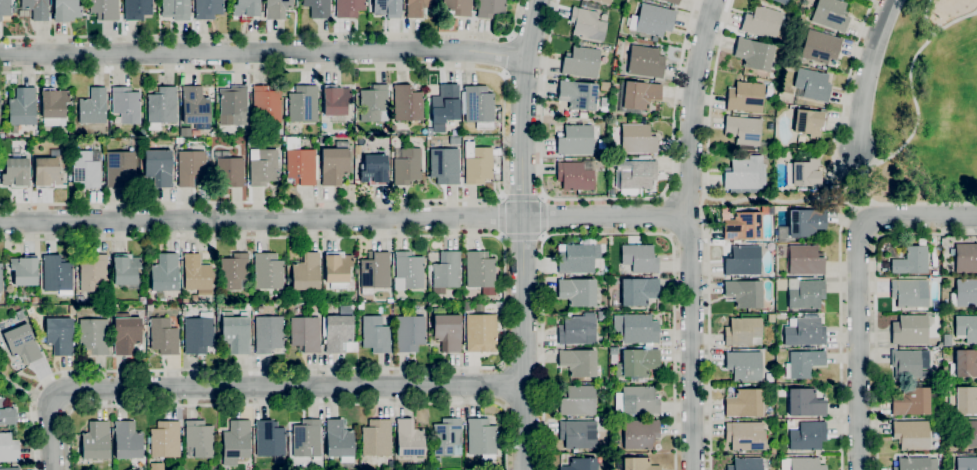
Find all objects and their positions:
building: (604, 1)
building: (673, 1)
building: (782, 1)
building: (416, 7)
building: (458, 7)
building: (5, 8)
building: (36, 8)
building: (276, 8)
building: (318, 8)
building: (349, 8)
building: (387, 8)
building: (490, 8)
building: (105, 9)
building: (137, 9)
building: (176, 9)
building: (208, 9)
building: (247, 9)
building: (66, 10)
building: (831, 14)
building: (652, 20)
building: (762, 22)
building: (586, 24)
road: (271, 35)
road: (510, 36)
building: (820, 46)
road: (264, 51)
building: (754, 54)
road: (509, 56)
building: (644, 61)
building: (581, 62)
road: (915, 69)
road: (868, 72)
road: (505, 74)
building: (813, 84)
building: (578, 94)
building: (637, 96)
building: (745, 97)
building: (335, 101)
building: (373, 103)
building: (407, 103)
building: (446, 103)
road: (844, 103)
building: (126, 104)
building: (266, 104)
building: (302, 104)
building: (478, 104)
road: (693, 104)
building: (195, 105)
building: (233, 105)
building: (93, 106)
building: (22, 107)
building: (54, 107)
building: (162, 107)
park: (927, 107)
building: (809, 123)
building: (277, 130)
building: (245, 132)
building: (746, 133)
building: (71, 134)
road: (504, 134)
building: (577, 139)
building: (637, 139)
building: (70, 140)
building: (321, 140)
building: (435, 142)
road: (887, 159)
building: (478, 163)
building: (334, 164)
building: (407, 165)
building: (444, 165)
building: (190, 166)
building: (301, 166)
building: (159, 167)
building: (264, 167)
building: (87, 169)
building: (120, 169)
building: (229, 169)
building: (374, 169)
building: (14, 172)
building: (47, 172)
building: (807, 172)
building: (745, 173)
building: (575, 175)
building: (635, 175)
road: (856, 187)
road: (503, 196)
road: (543, 197)
road: (523, 198)
road: (604, 199)
road: (774, 199)
road: (502, 216)
road: (544, 217)
road: (344, 219)
building: (806, 222)
building: (743, 226)
road: (523, 233)
road: (608, 233)
road: (706, 233)
building: (782, 233)
road: (543, 236)
road: (502, 237)
road: (523, 237)
building: (966, 257)
building: (581, 258)
building: (639, 258)
building: (803, 259)
building: (743, 260)
building: (911, 261)
building: (336, 267)
building: (125, 269)
building: (24, 270)
building: (479, 270)
building: (92, 271)
building: (234, 271)
building: (267, 271)
building: (375, 271)
building: (408, 271)
building: (306, 272)
building: (165, 273)
building: (446, 273)
building: (57, 274)
building: (197, 274)
road: (840, 275)
building: (1, 277)
road: (858, 289)
building: (637, 291)
building: (577, 292)
building: (744, 293)
building: (805, 293)
building: (910, 293)
building: (964, 293)
building: (194, 297)
building: (34, 299)
building: (142, 300)
building: (184, 300)
road: (874, 303)
building: (360, 305)
building: (247, 306)
building: (150, 307)
building: (290, 310)
building: (101, 311)
building: (20, 314)
building: (602, 315)
building: (771, 318)
building: (966, 327)
road: (504, 328)
building: (636, 328)
building: (447, 329)
building: (577, 329)
building: (910, 330)
building: (340, 331)
building: (743, 331)
building: (804, 331)
building: (480, 332)
building: (93, 333)
building: (126, 333)
building: (198, 333)
building: (236, 333)
building: (268, 333)
building: (305, 333)
building: (409, 333)
building: (375, 334)
building: (60, 335)
building: (163, 336)
road: (692, 340)
building: (946, 340)
building: (20, 342)
building: (612, 350)
building: (578, 362)
building: (637, 362)
building: (803, 363)
building: (905, 363)
building: (964, 364)
building: (744, 365)
road: (502, 366)
park: (14, 380)
road: (16, 385)
road: (506, 386)
road: (252, 387)
building: (963, 399)
building: (578, 400)
building: (636, 401)
building: (911, 401)
road: (48, 402)
building: (805, 402)
road: (288, 403)
building: (744, 403)
road: (506, 406)
road: (68, 409)
building: (6, 413)
building: (790, 423)
building: (579, 433)
building: (640, 433)
building: (911, 434)
building: (970, 434)
building: (807, 435)
building: (745, 436)
building: (376, 437)
building: (481, 437)
building: (199, 438)
building: (306, 438)
building: (447, 438)
building: (237, 440)
building: (270, 440)
building: (339, 440)
building: (409, 440)
building: (96, 441)
building: (127, 441)
building: (164, 441)
building: (8, 448)
building: (773, 450)
building: (801, 463)
building: (912, 463)
building: (966, 463)
building: (580, 464)
building: (638, 464)
building: (746, 464)
building: (10, 468)

